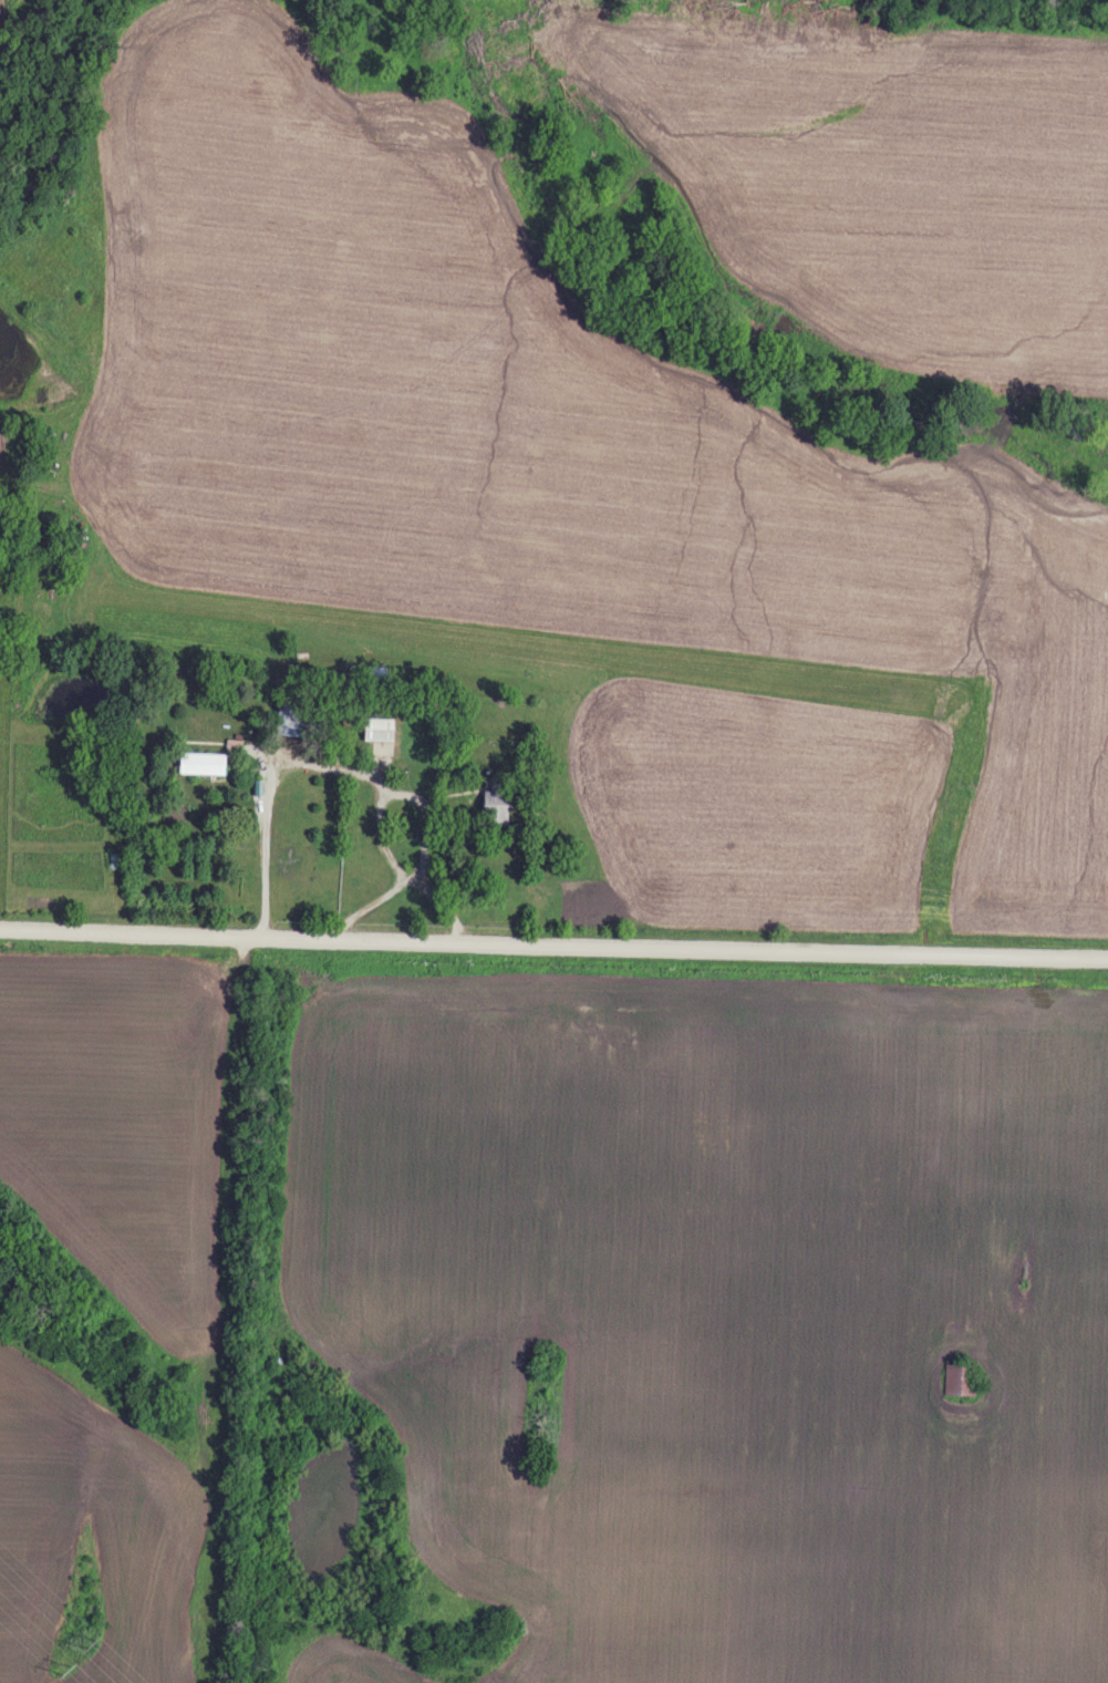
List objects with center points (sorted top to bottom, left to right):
building: (377, 674)
building: (298, 720)
building: (377, 729)
building: (201, 762)
road: (355, 766)
building: (495, 802)
building: (118, 859)
road: (406, 874)
road: (553, 946)
building: (959, 1380)
power tower: (89, 1645)
power tower: (68, 1664)

